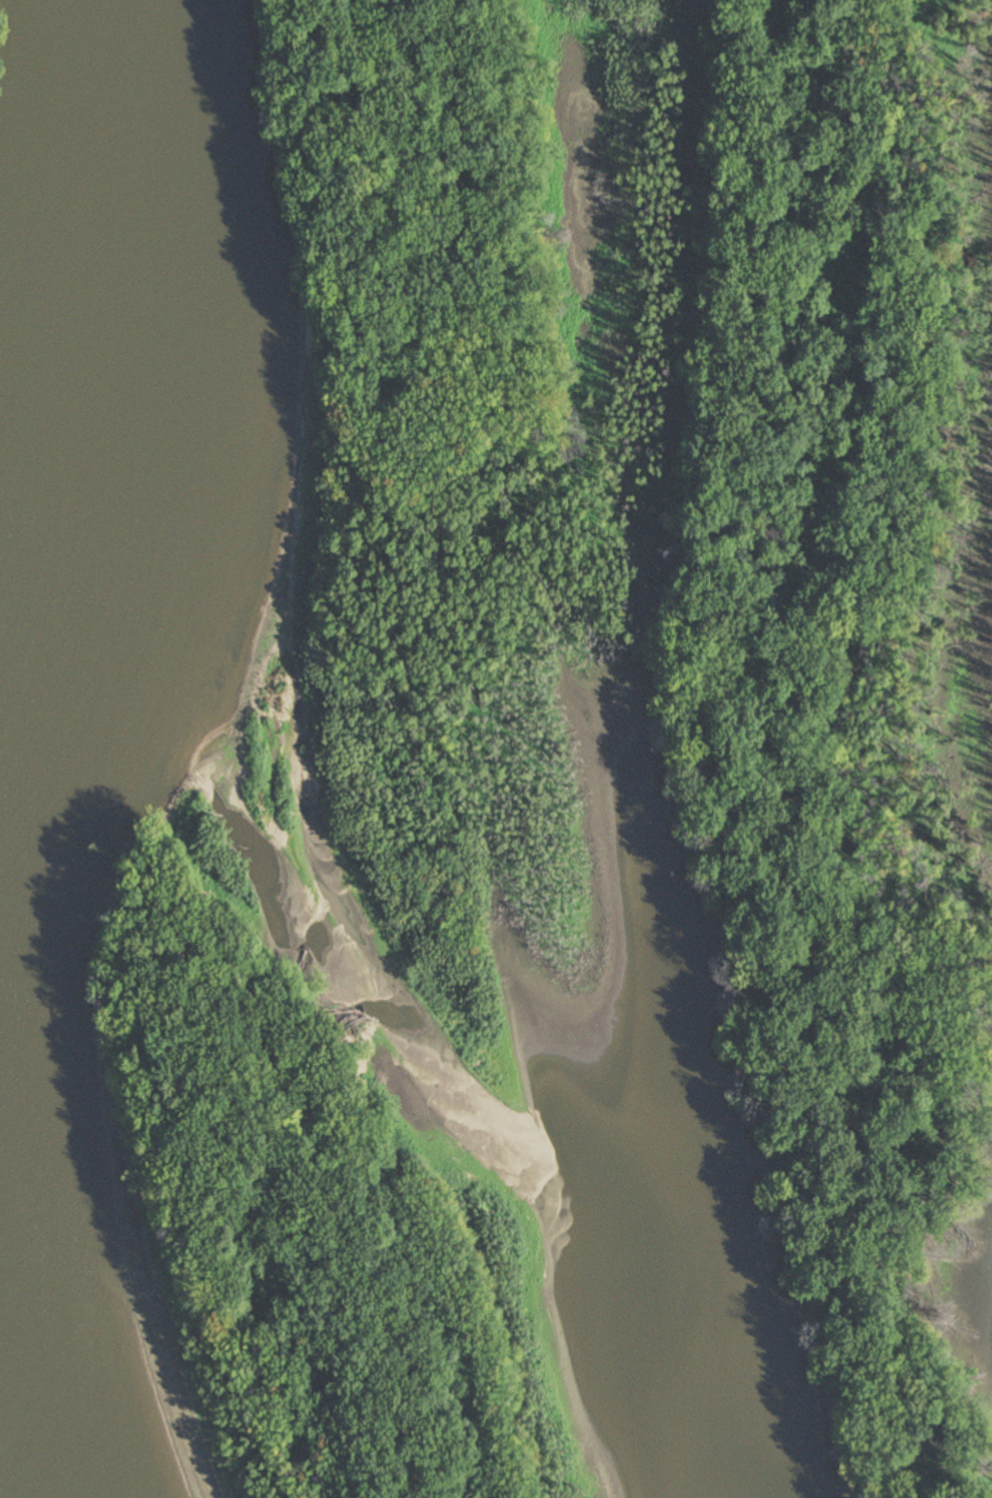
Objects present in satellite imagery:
road: (782, 173)

